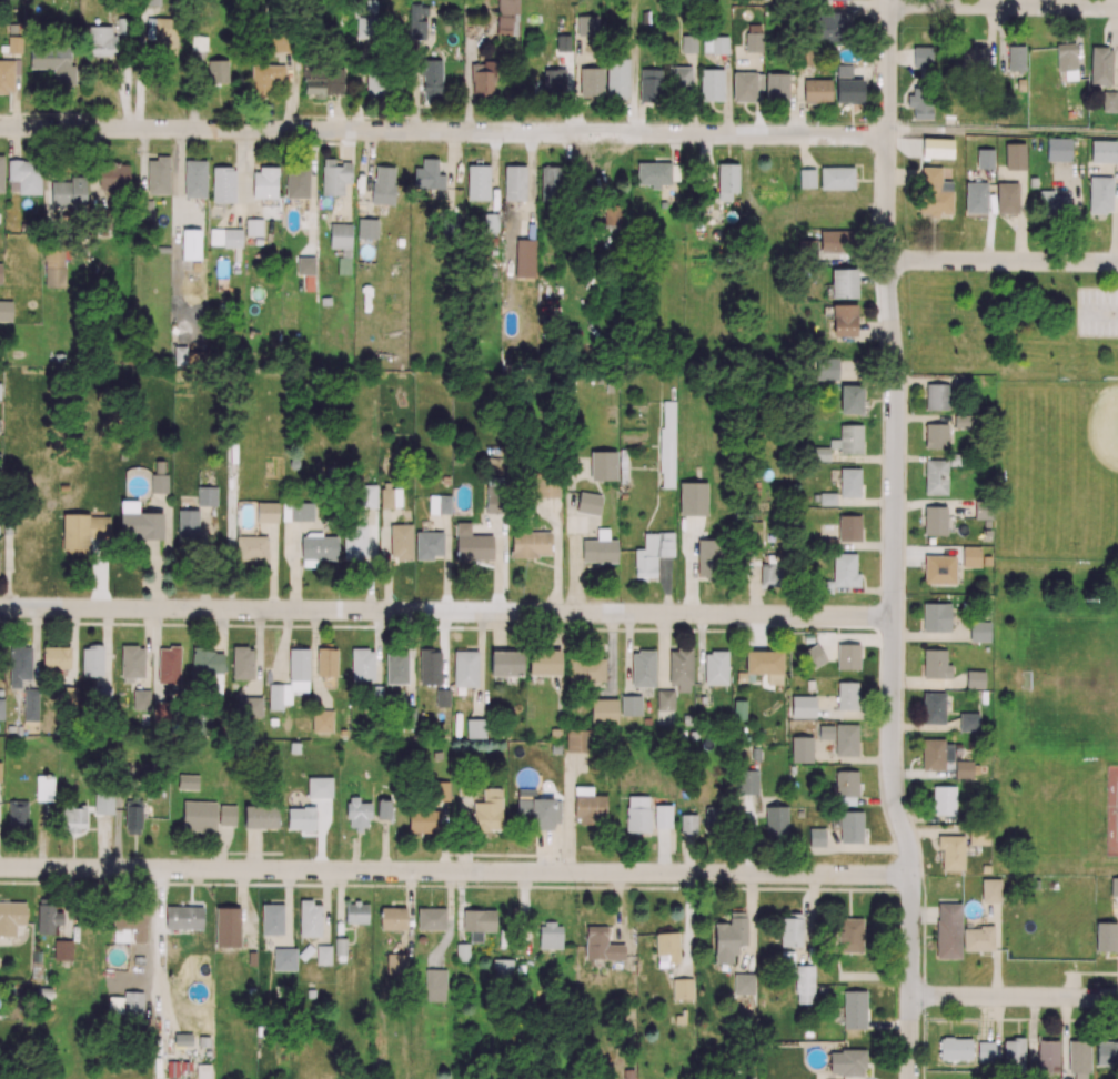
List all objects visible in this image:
road: (1004, 6)
building: (843, 69)
building: (712, 83)
road: (444, 131)
road: (1003, 132)
building: (937, 145)
building: (1058, 148)
building: (1102, 150)
building: (1015, 154)
building: (985, 157)
building: (158, 173)
building: (194, 177)
building: (806, 177)
building: (836, 177)
building: (477, 181)
building: (1033, 181)
building: (223, 183)
building: (1099, 193)
building: (805, 195)
building: (976, 195)
building: (366, 226)
building: (191, 243)
building: (162, 248)
road: (1003, 261)
building: (0, 268)
building: (324, 300)
building: (6, 310)
park: (1062, 463)
building: (936, 476)
building: (983, 508)
building: (935, 520)
building: (986, 523)
building: (848, 526)
park: (1039, 530)
building: (987, 531)
road: (894, 539)
building: (971, 556)
building: (986, 559)
building: (939, 568)
road: (446, 612)
building: (936, 616)
building: (979, 631)
building: (807, 636)
building: (813, 655)
building: (847, 656)
building: (975, 678)
park: (1075, 678)
building: (664, 699)
building: (629, 704)
building: (803, 705)
building: (934, 707)
building: (645, 719)
building: (968, 722)
building: (800, 748)
park: (1117, 815)
building: (816, 836)
road: (455, 870)
road: (875, 975)
building: (743, 982)
building: (822, 989)
road: (1014, 996)
building: (854, 1008)
road: (985, 1018)
road: (888, 1023)

